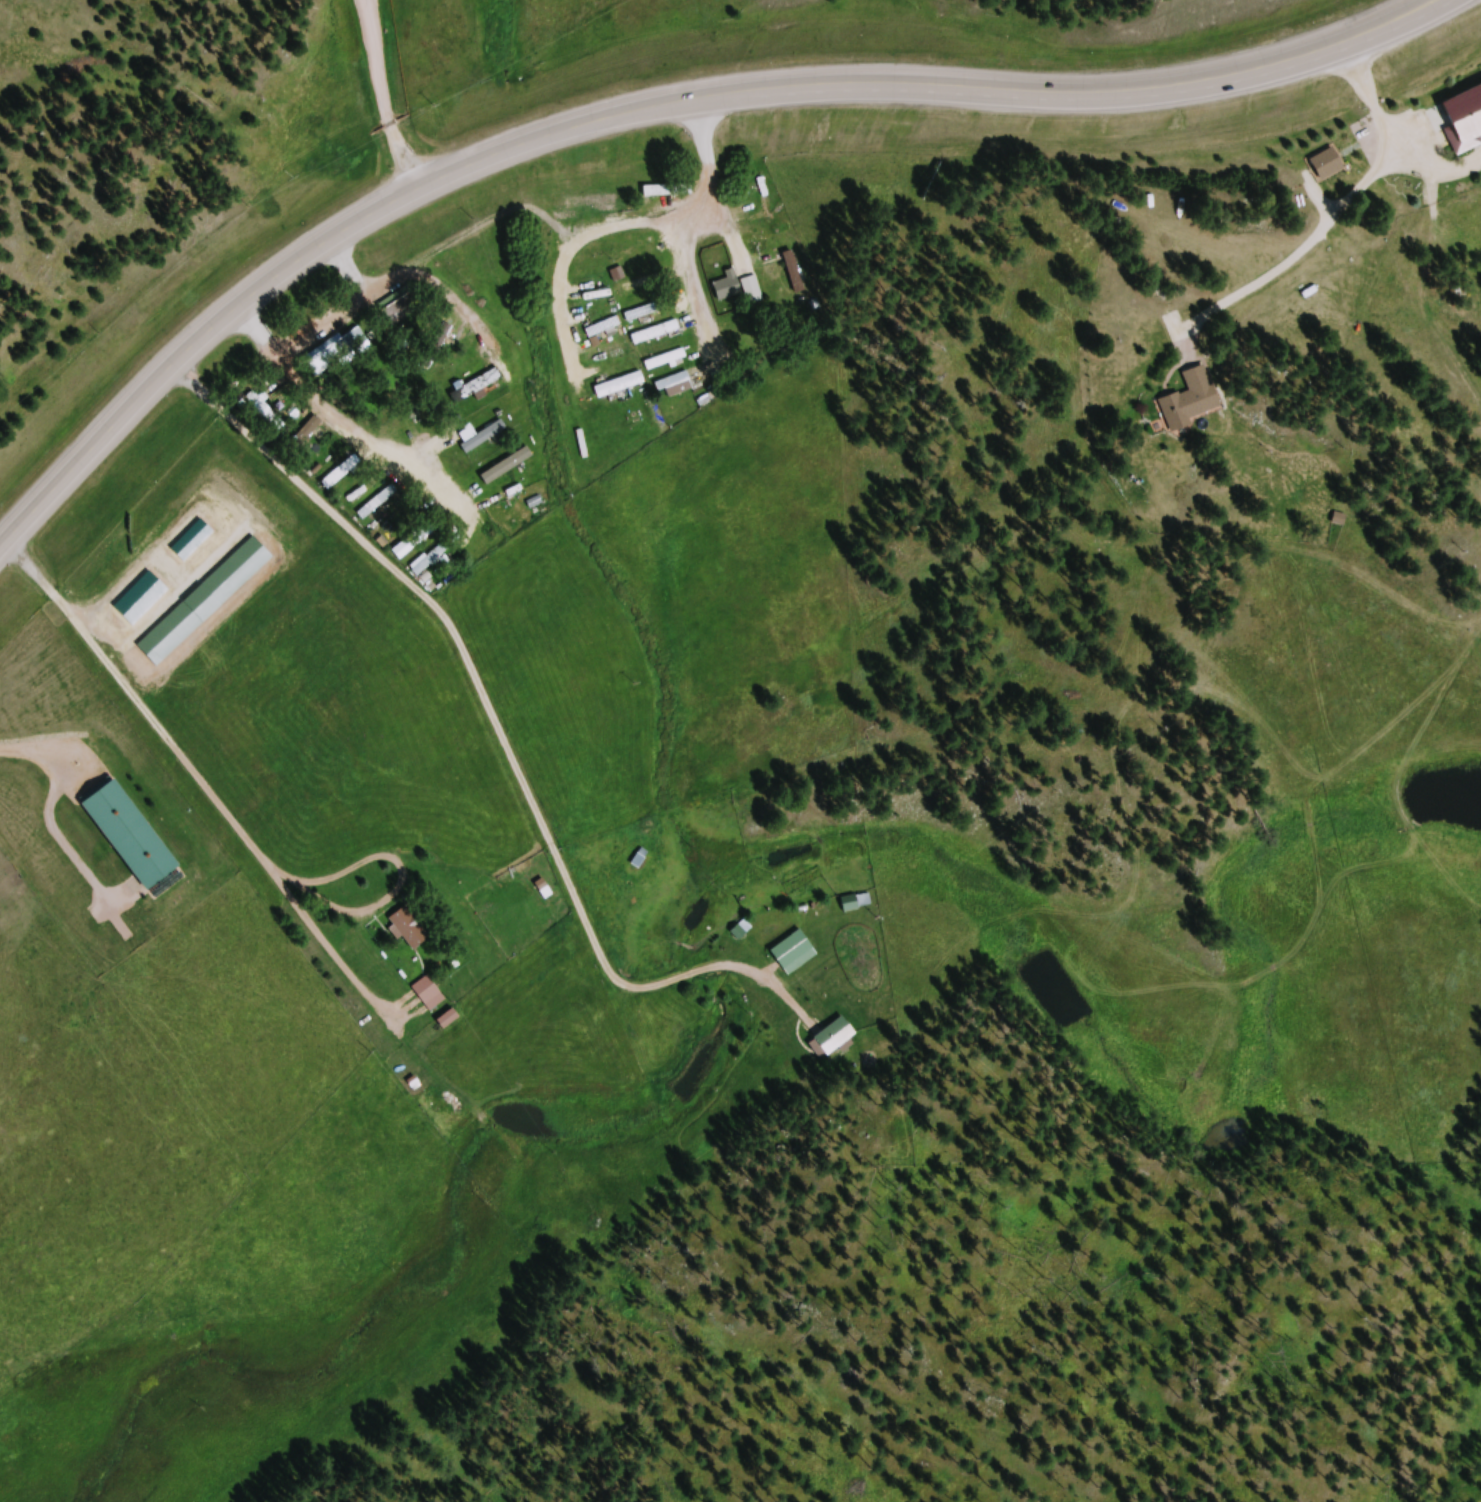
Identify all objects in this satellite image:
road: (386, 95)
road: (651, 104)
building: (1467, 123)
building: (1333, 166)
building: (664, 193)
building: (770, 201)
building: (592, 207)
road: (614, 228)
building: (648, 242)
building: (644, 258)
road: (418, 273)
building: (732, 288)
building: (637, 289)
road: (697, 293)
building: (407, 304)
building: (648, 313)
building: (607, 329)
building: (659, 334)
building: (612, 355)
building: (330, 362)
building: (679, 386)
building: (624, 387)
building: (474, 390)
building: (1195, 403)
building: (265, 410)
road: (347, 423)
building: (313, 434)
building: (487, 438)
building: (335, 482)
building: (512, 495)
building: (196, 541)
building: (145, 600)
building: (121, 815)
building: (644, 860)
building: (859, 903)
building: (413, 929)
building: (745, 931)
building: (798, 953)
building: (432, 994)
building: (454, 1020)
building: (838, 1037)

